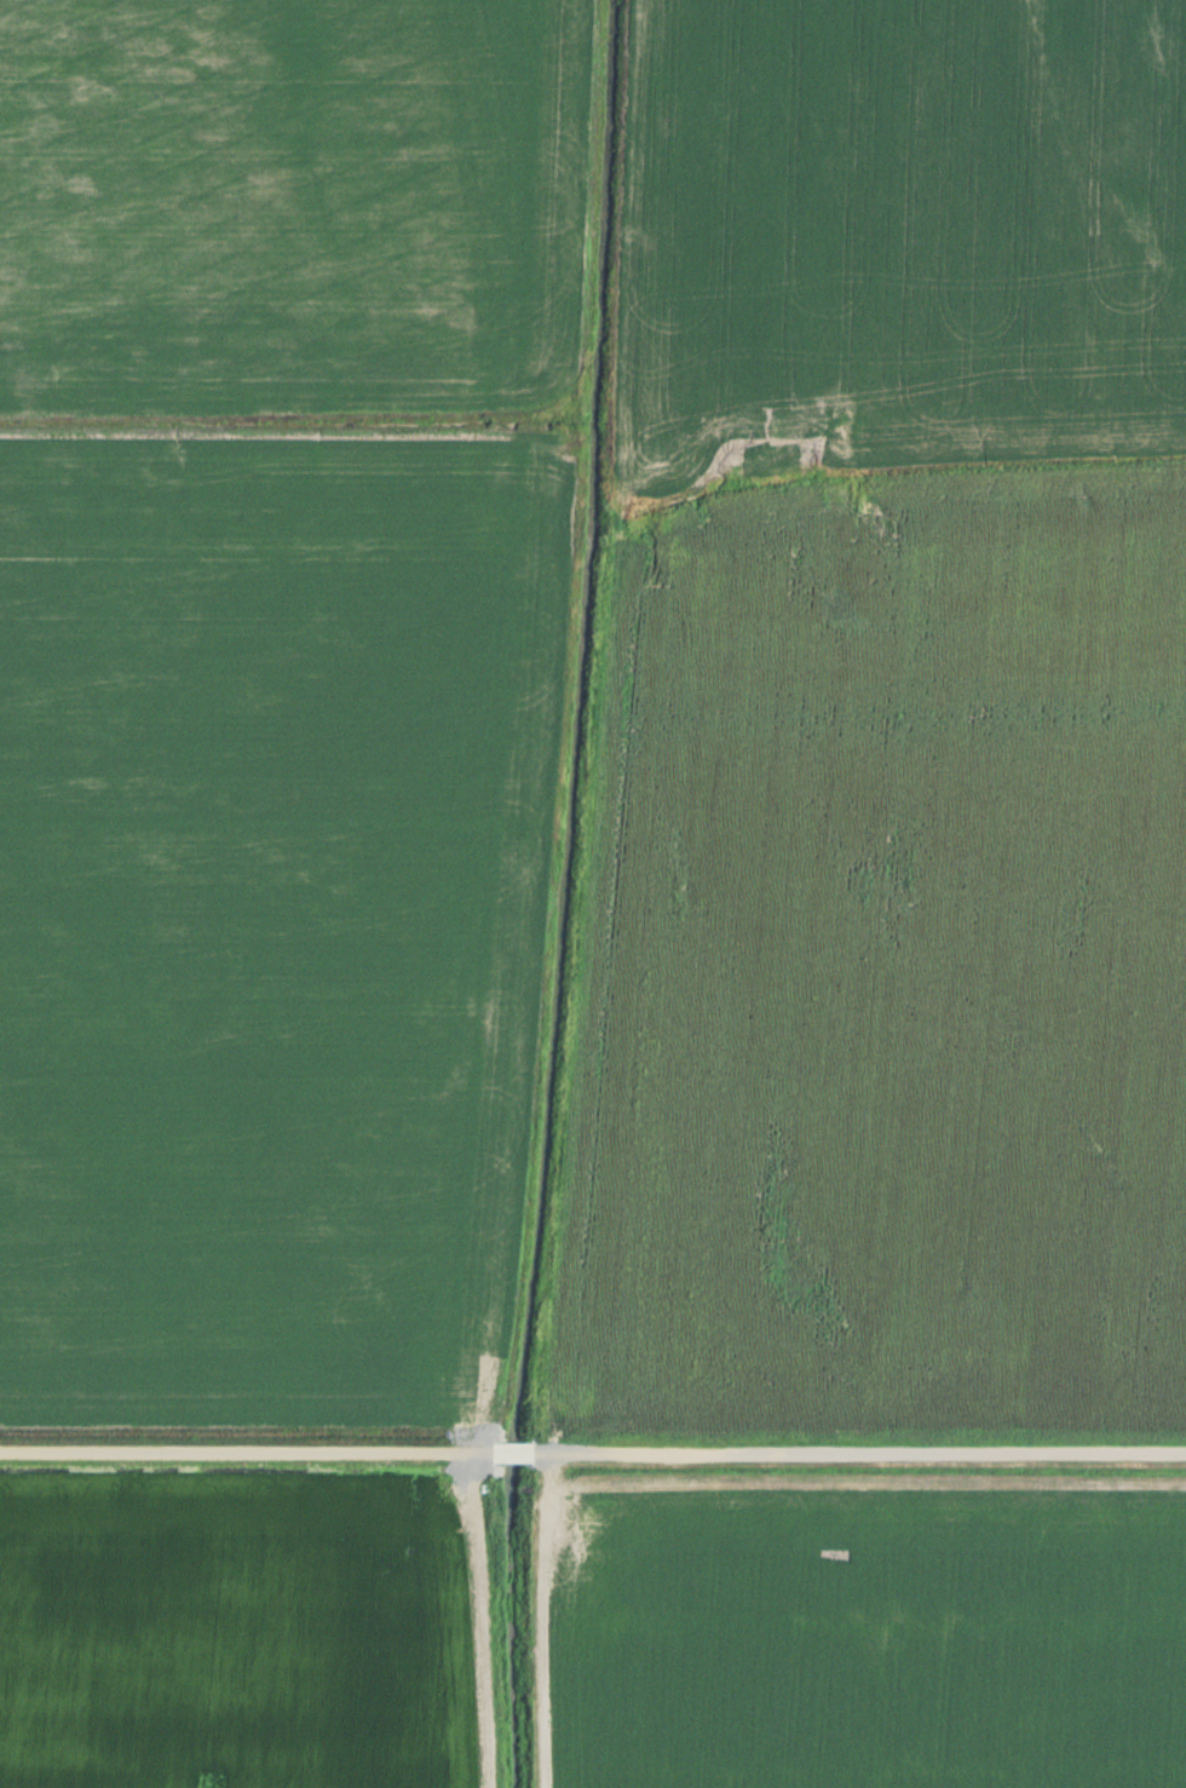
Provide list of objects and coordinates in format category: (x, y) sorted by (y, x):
road: (266, 1448)
road: (859, 1450)

